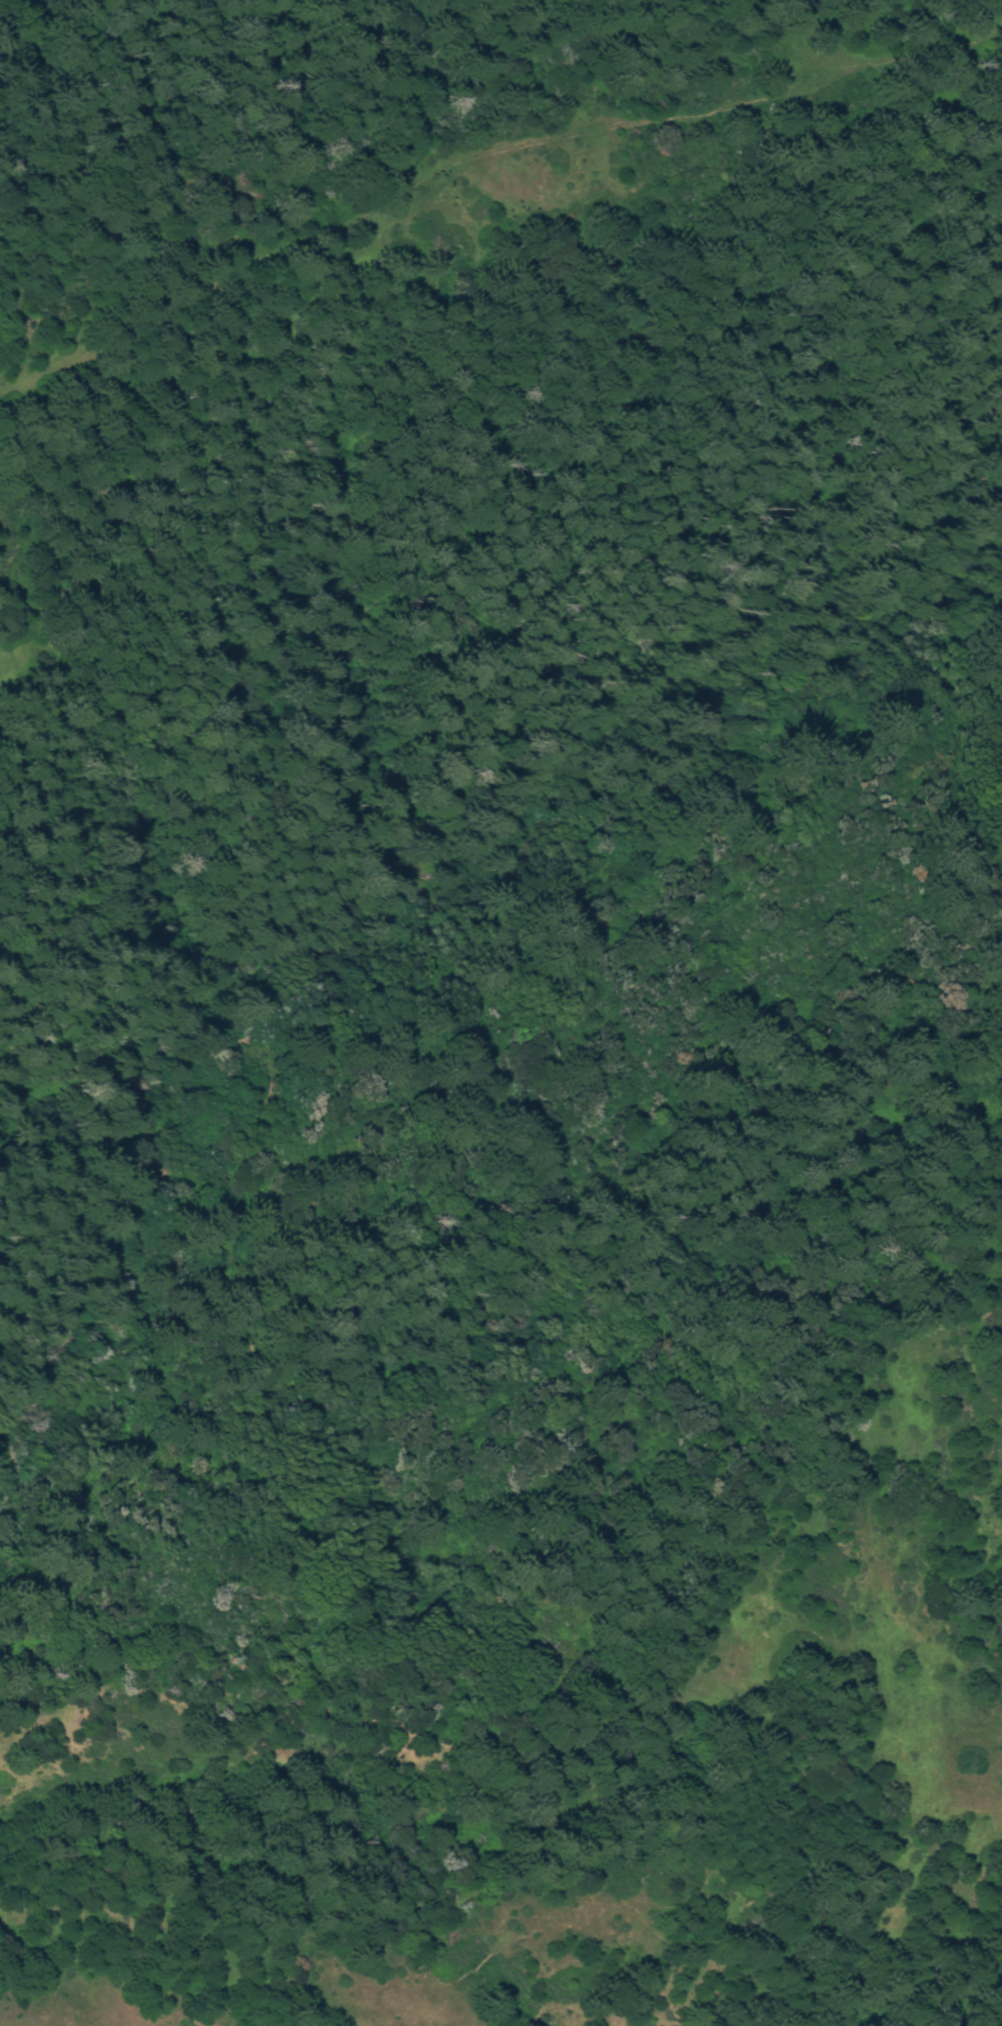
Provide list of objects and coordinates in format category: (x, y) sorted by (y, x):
road: (452, 123)

